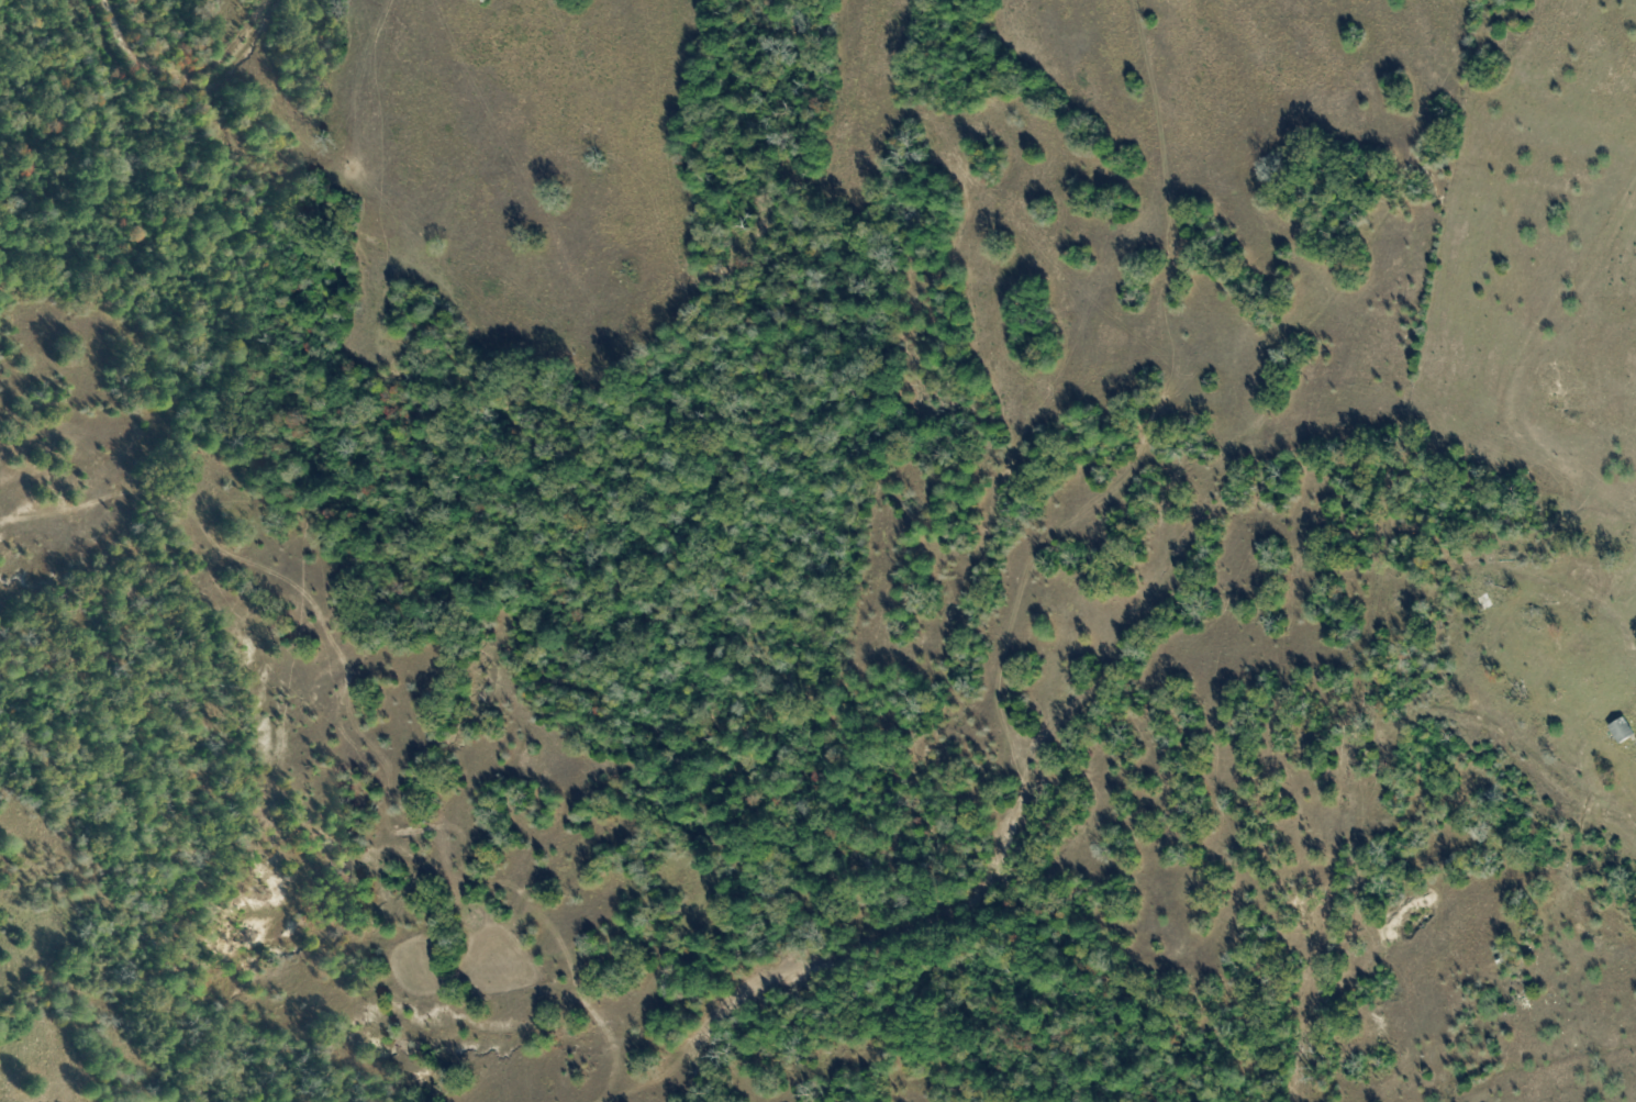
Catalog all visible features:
building: (1624, 732)

